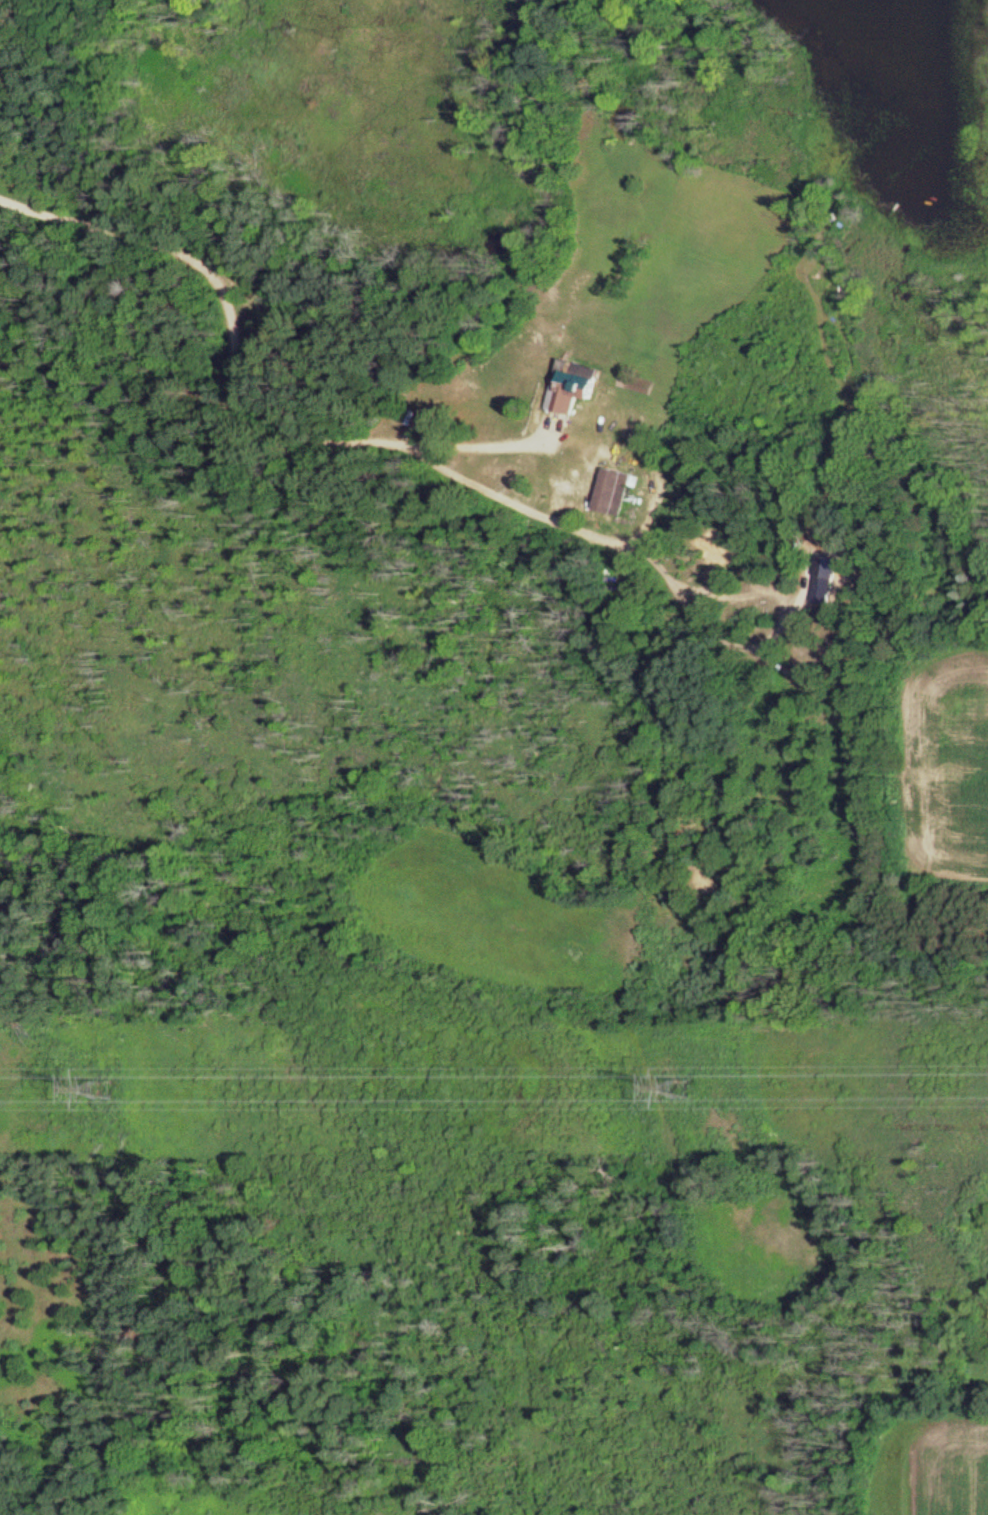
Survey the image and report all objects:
road: (239, 365)
building: (577, 388)
building: (615, 494)
building: (827, 589)
power tower: (101, 1086)
power tower: (683, 1088)

